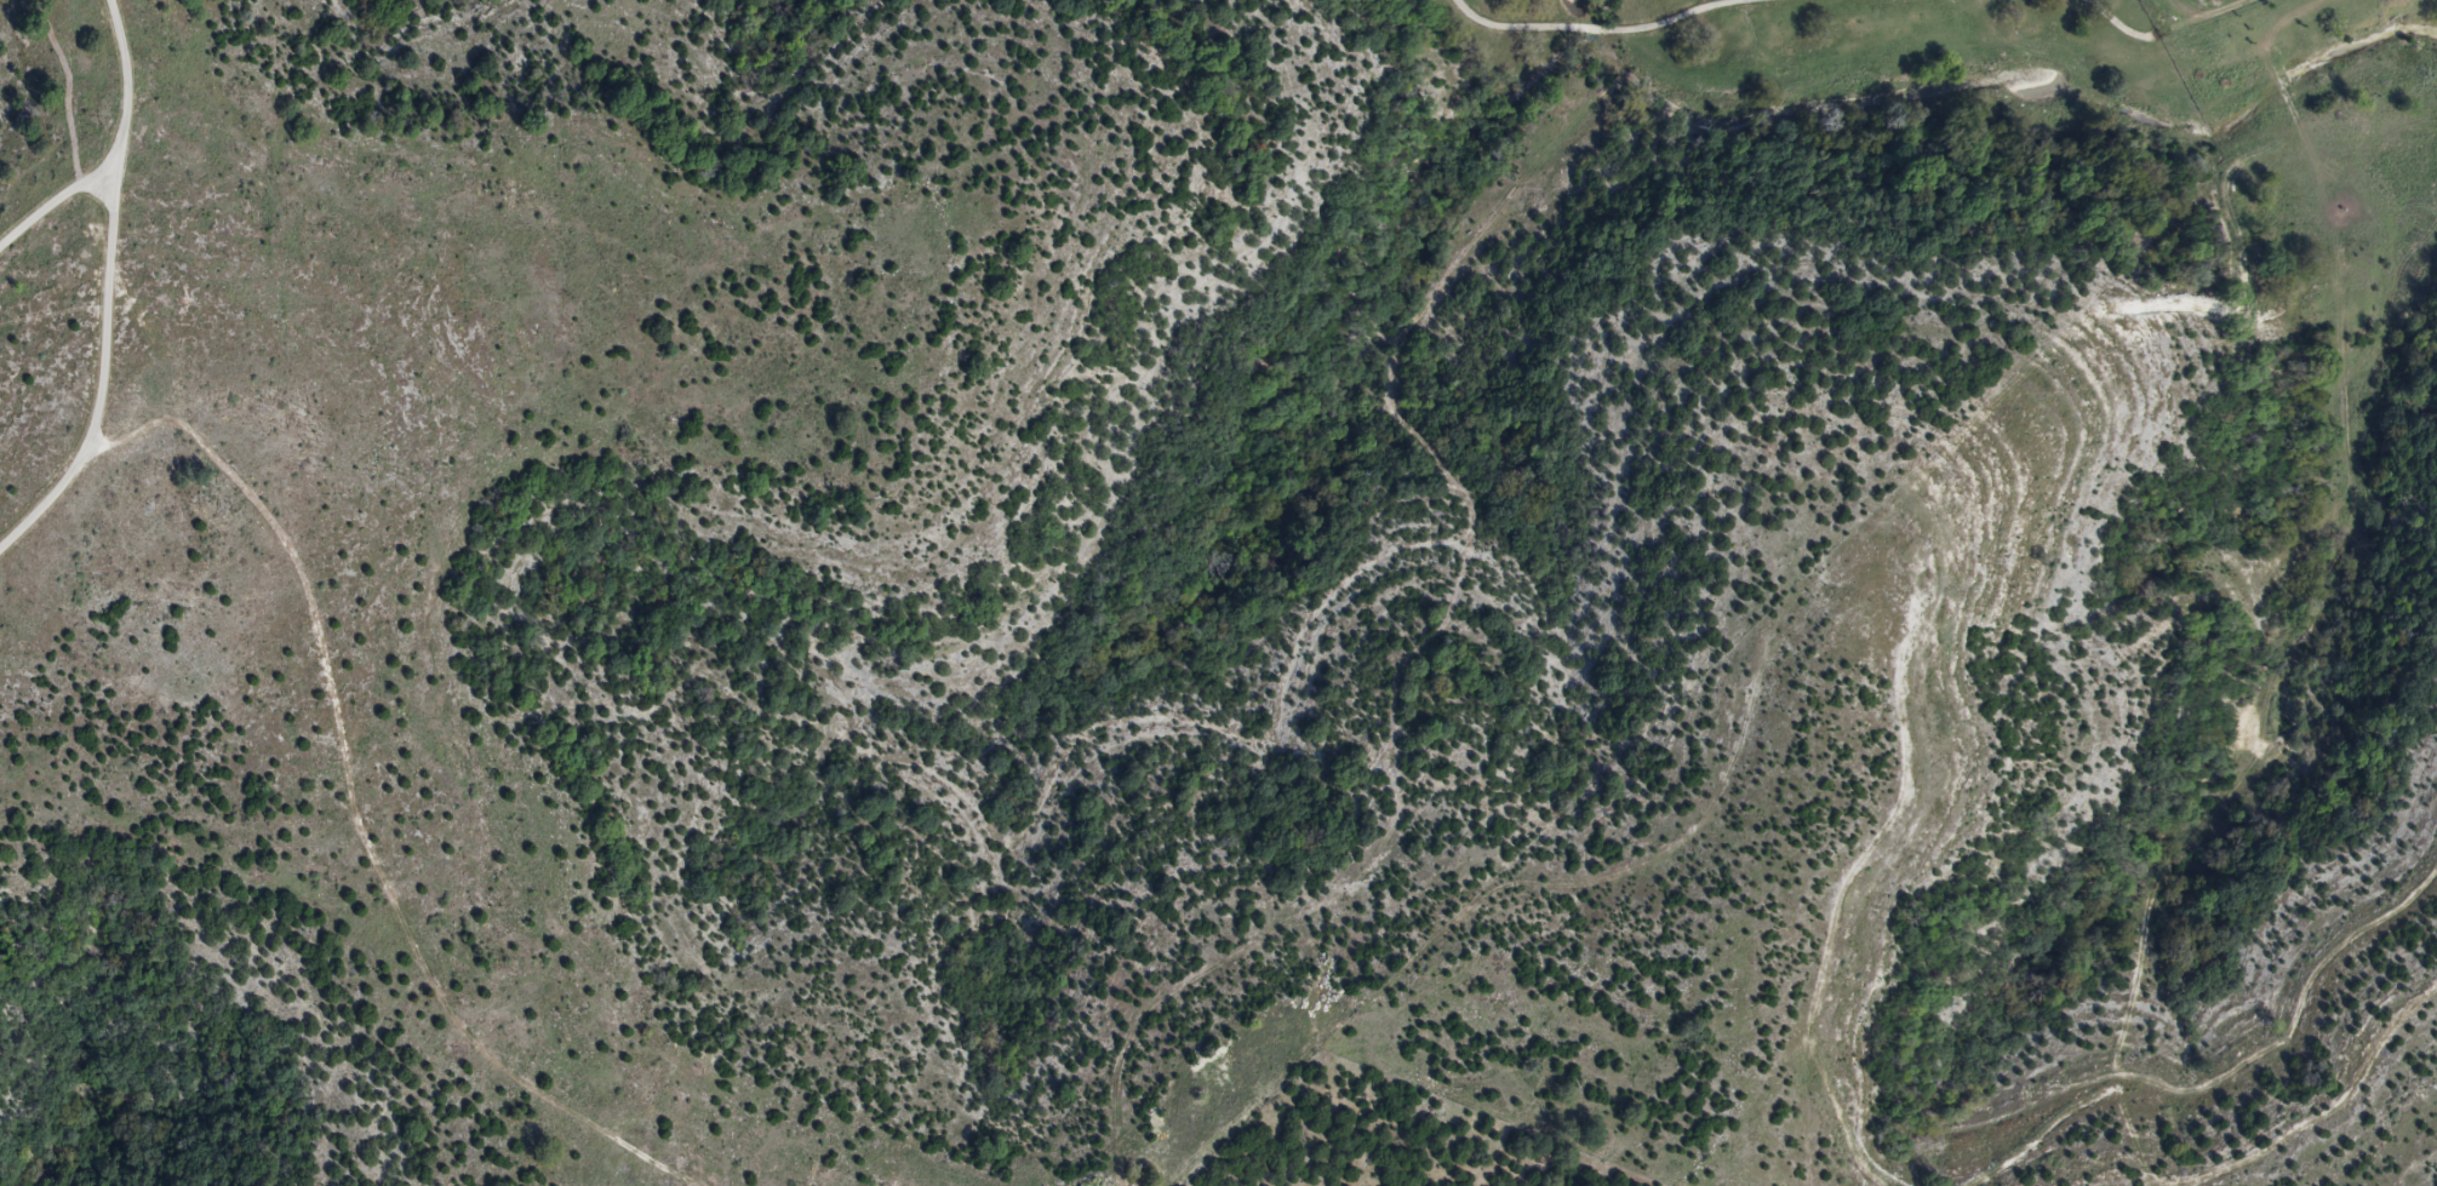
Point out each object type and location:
road: (56, 210)
road: (116, 297)

